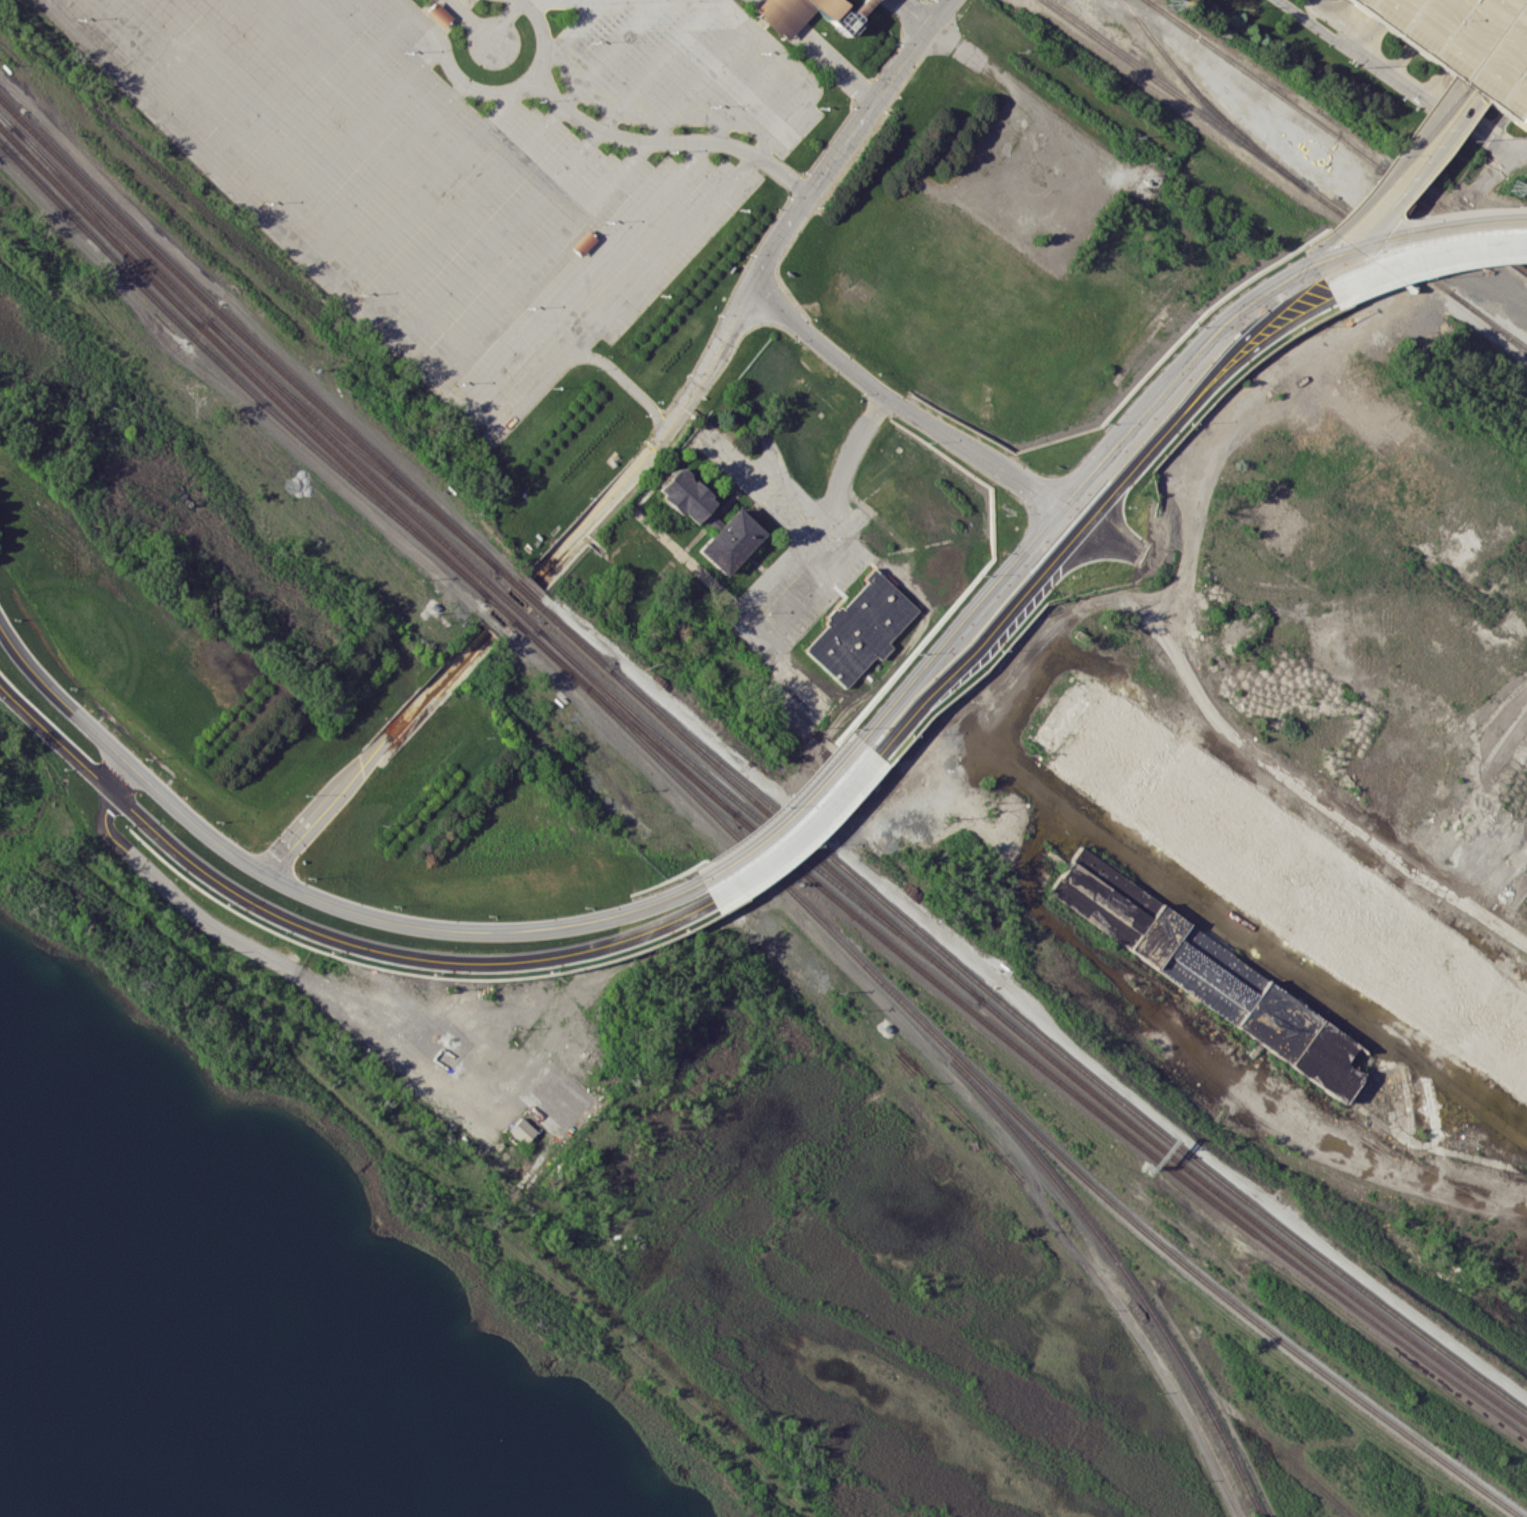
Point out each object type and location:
road: (864, 10)
building: (802, 13)
building: (438, 14)
road: (1345, 43)
building: (1465, 43)
parking garage: (1465, 43)
road: (824, 49)
road: (1469, 89)
railway: (1203, 105)
road: (1441, 106)
railway: (6, 120)
railway: (1337, 136)
road: (847, 139)
road: (631, 142)
railway: (1285, 174)
road: (1386, 174)
road: (1420, 175)
railway: (1452, 208)
railway: (110, 223)
railway: (108, 227)
railway: (100, 228)
road: (1417, 235)
road: (1329, 254)
road: (1424, 259)
railway: (1489, 324)
road: (1251, 327)
railway: (248, 339)
road: (1261, 341)
road: (1175, 374)
railway: (236, 378)
road: (1267, 378)
road: (897, 402)
railway: (356, 446)
road: (853, 448)
railway: (354, 456)
railway: (346, 463)
building: (684, 495)
building: (729, 541)
railway: (508, 577)
road: (1034, 580)
road: (525, 590)
railway: (524, 591)
railway: (492, 599)
railway: (511, 604)
railway: (504, 611)
railway: (531, 623)
road: (953, 627)
building: (860, 628)
road: (769, 633)
railway: (638, 723)
road: (125, 758)
road: (111, 795)
railway: (757, 804)
road: (785, 815)
railway: (758, 820)
road: (801, 830)
road: (490, 929)
road: (329, 935)
railway: (843, 943)
building: (1208, 973)
road: (309, 984)
railway: (1010, 1042)
railway: (1059, 1051)
building: (521, 1130)
railway: (1251, 1217)
railway: (1338, 1383)

